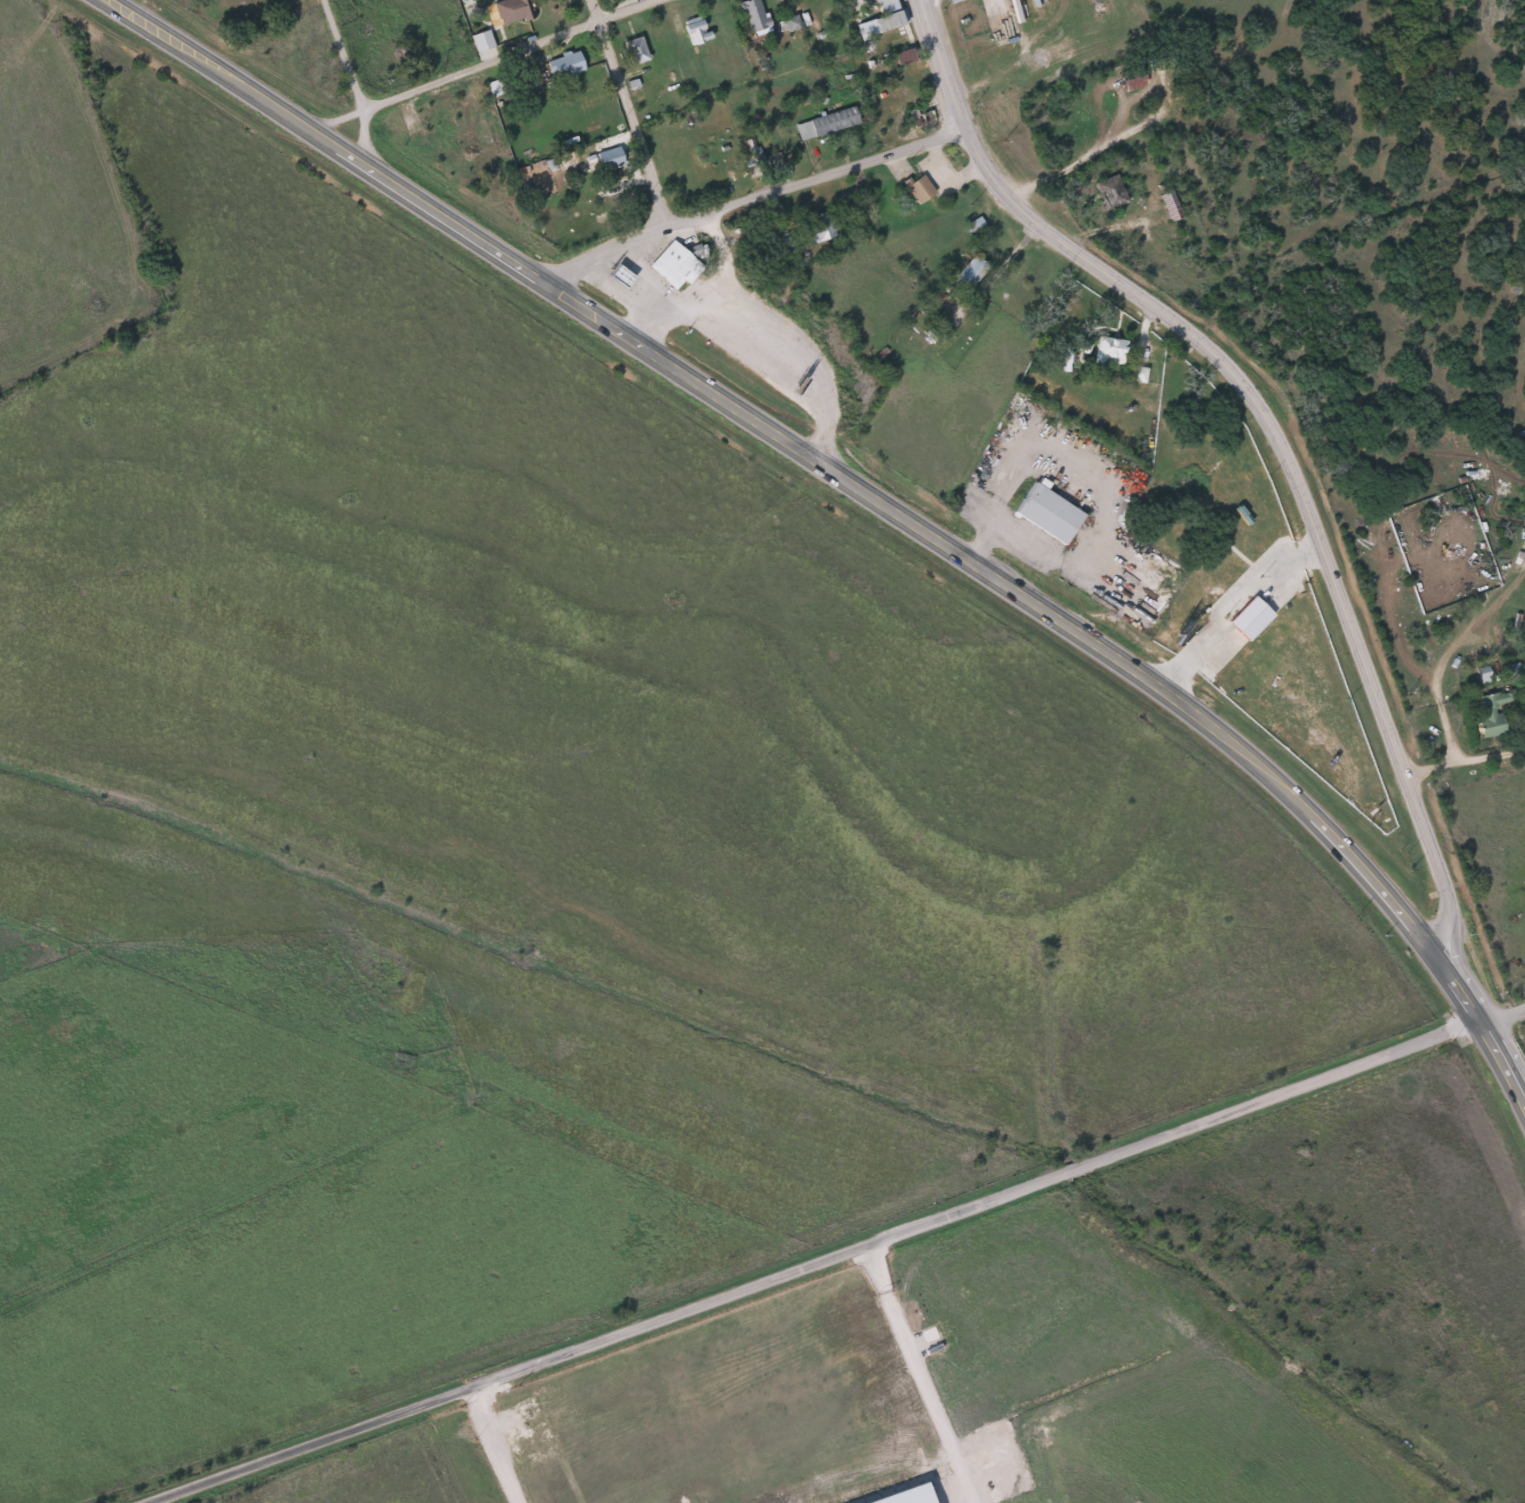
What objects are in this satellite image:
building: (952, 1)
building: (508, 12)
building: (753, 16)
building: (879, 19)
building: (790, 22)
building: (693, 30)
building: (481, 41)
building: (635, 50)
road: (484, 64)
building: (563, 65)
building: (1131, 80)
road: (352, 82)
road: (629, 110)
building: (825, 123)
building: (748, 151)
building: (607, 157)
road: (948, 175)
building: (920, 188)
building: (1109, 191)
road: (748, 197)
building: (819, 227)
building: (677, 267)
building: (970, 271)
building: (623, 276)
gas station: (623, 276)
road: (629, 299)
road: (686, 300)
road: (769, 336)
building: (1083, 347)
building: (1108, 350)
parking lot: (744, 355)
building: (1137, 374)
road: (1268, 423)
road: (869, 495)
building: (1047, 513)
road: (1228, 599)
building: (1248, 618)
building: (1482, 675)
building: (1524, 692)
building: (1490, 713)
road: (1449, 735)
road: (1464, 760)
road: (1501, 1015)
road: (811, 1261)
road: (916, 1373)
road: (493, 1444)
building: (902, 1496)

